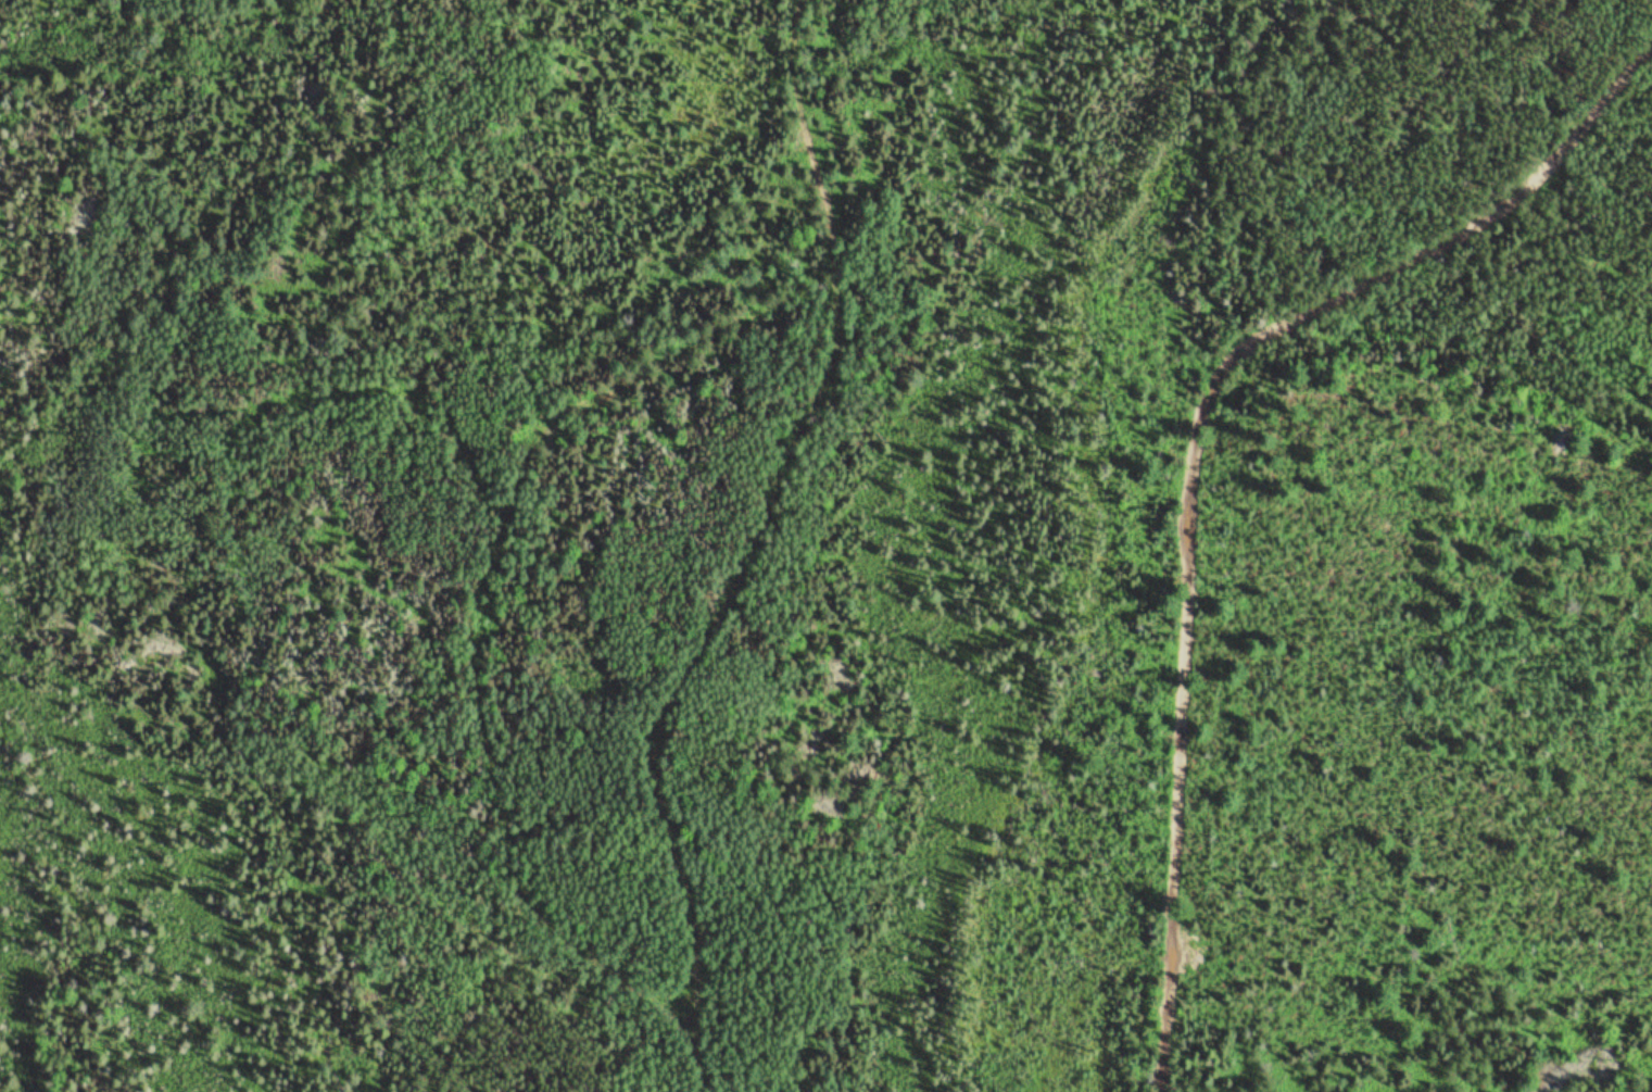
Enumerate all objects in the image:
road: (1195, 453)
road: (752, 547)

